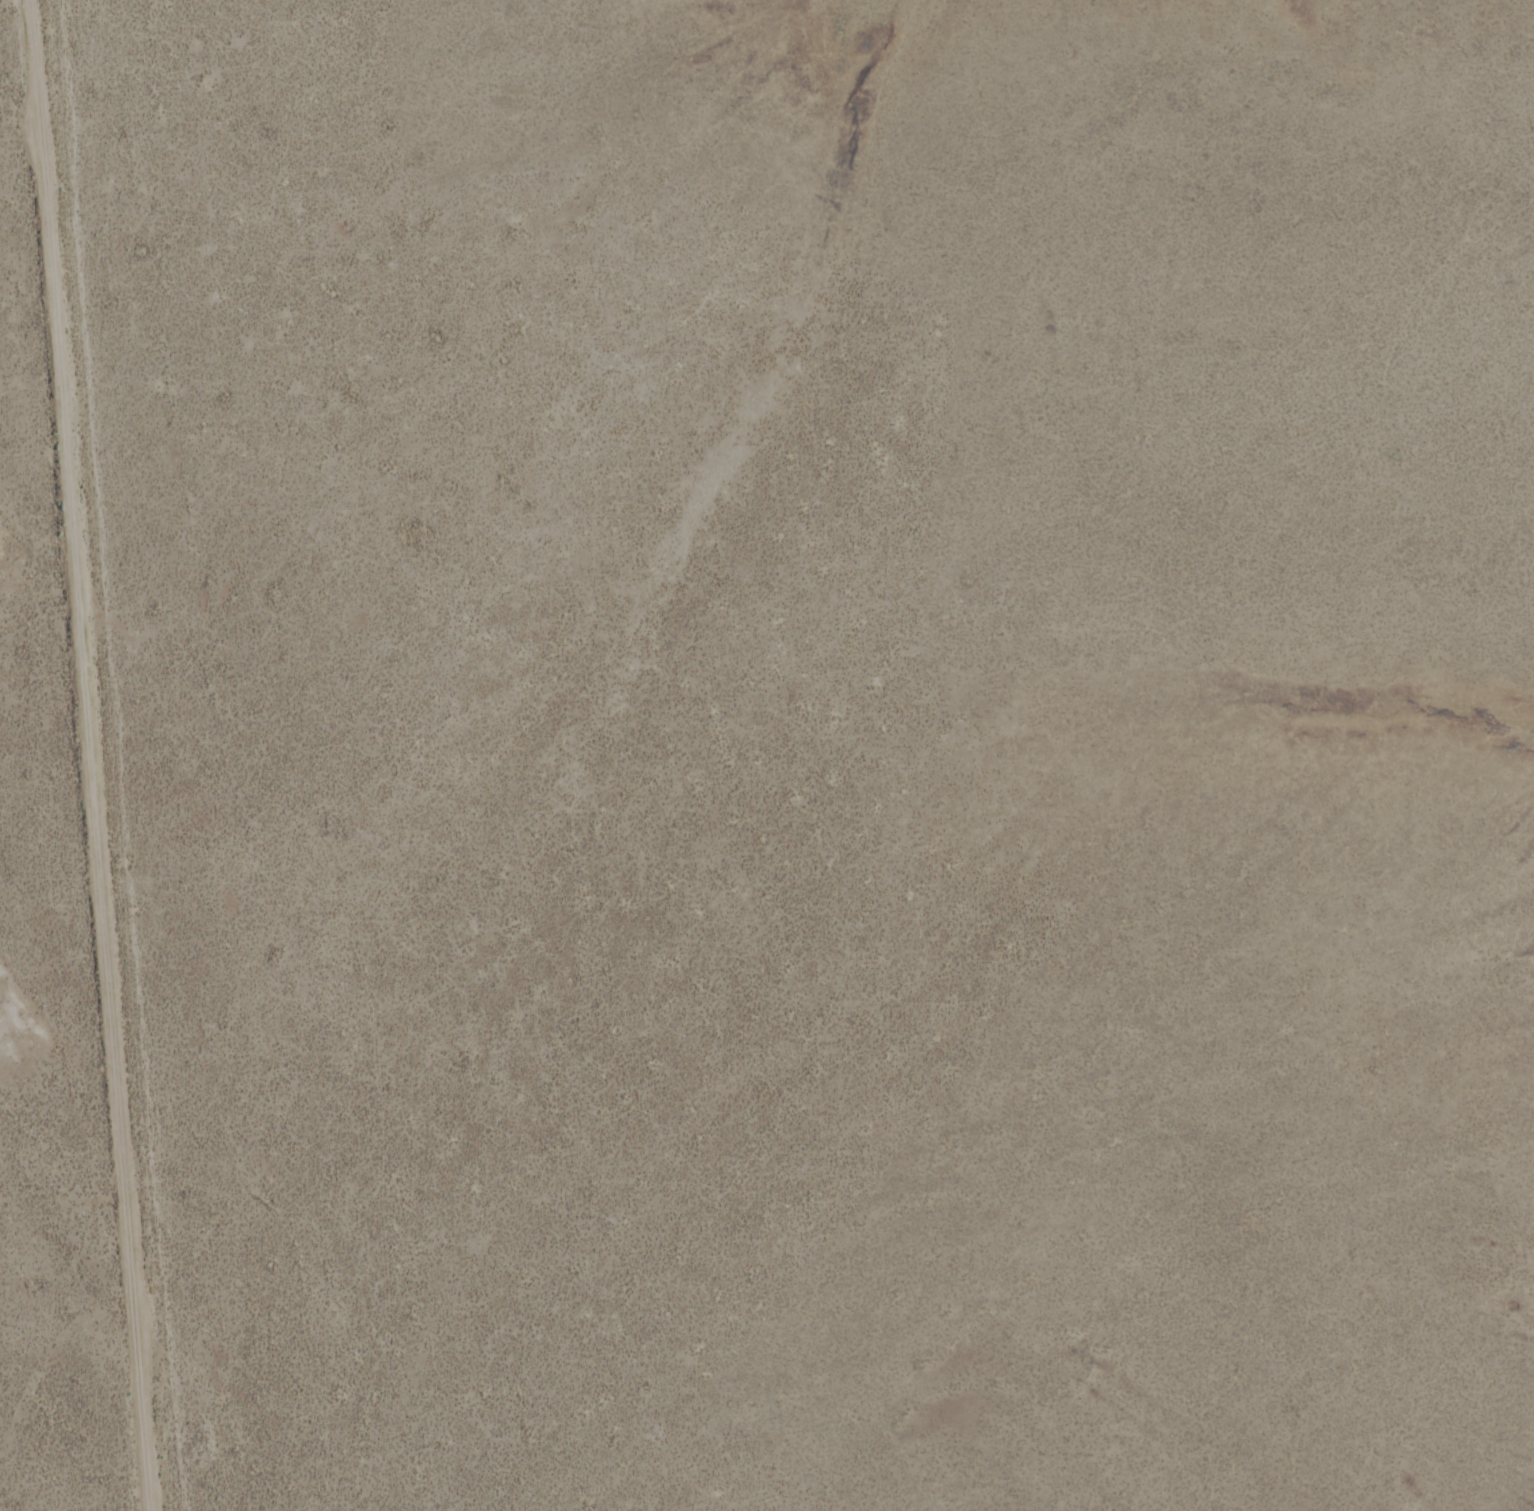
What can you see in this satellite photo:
road: (88, 755)

